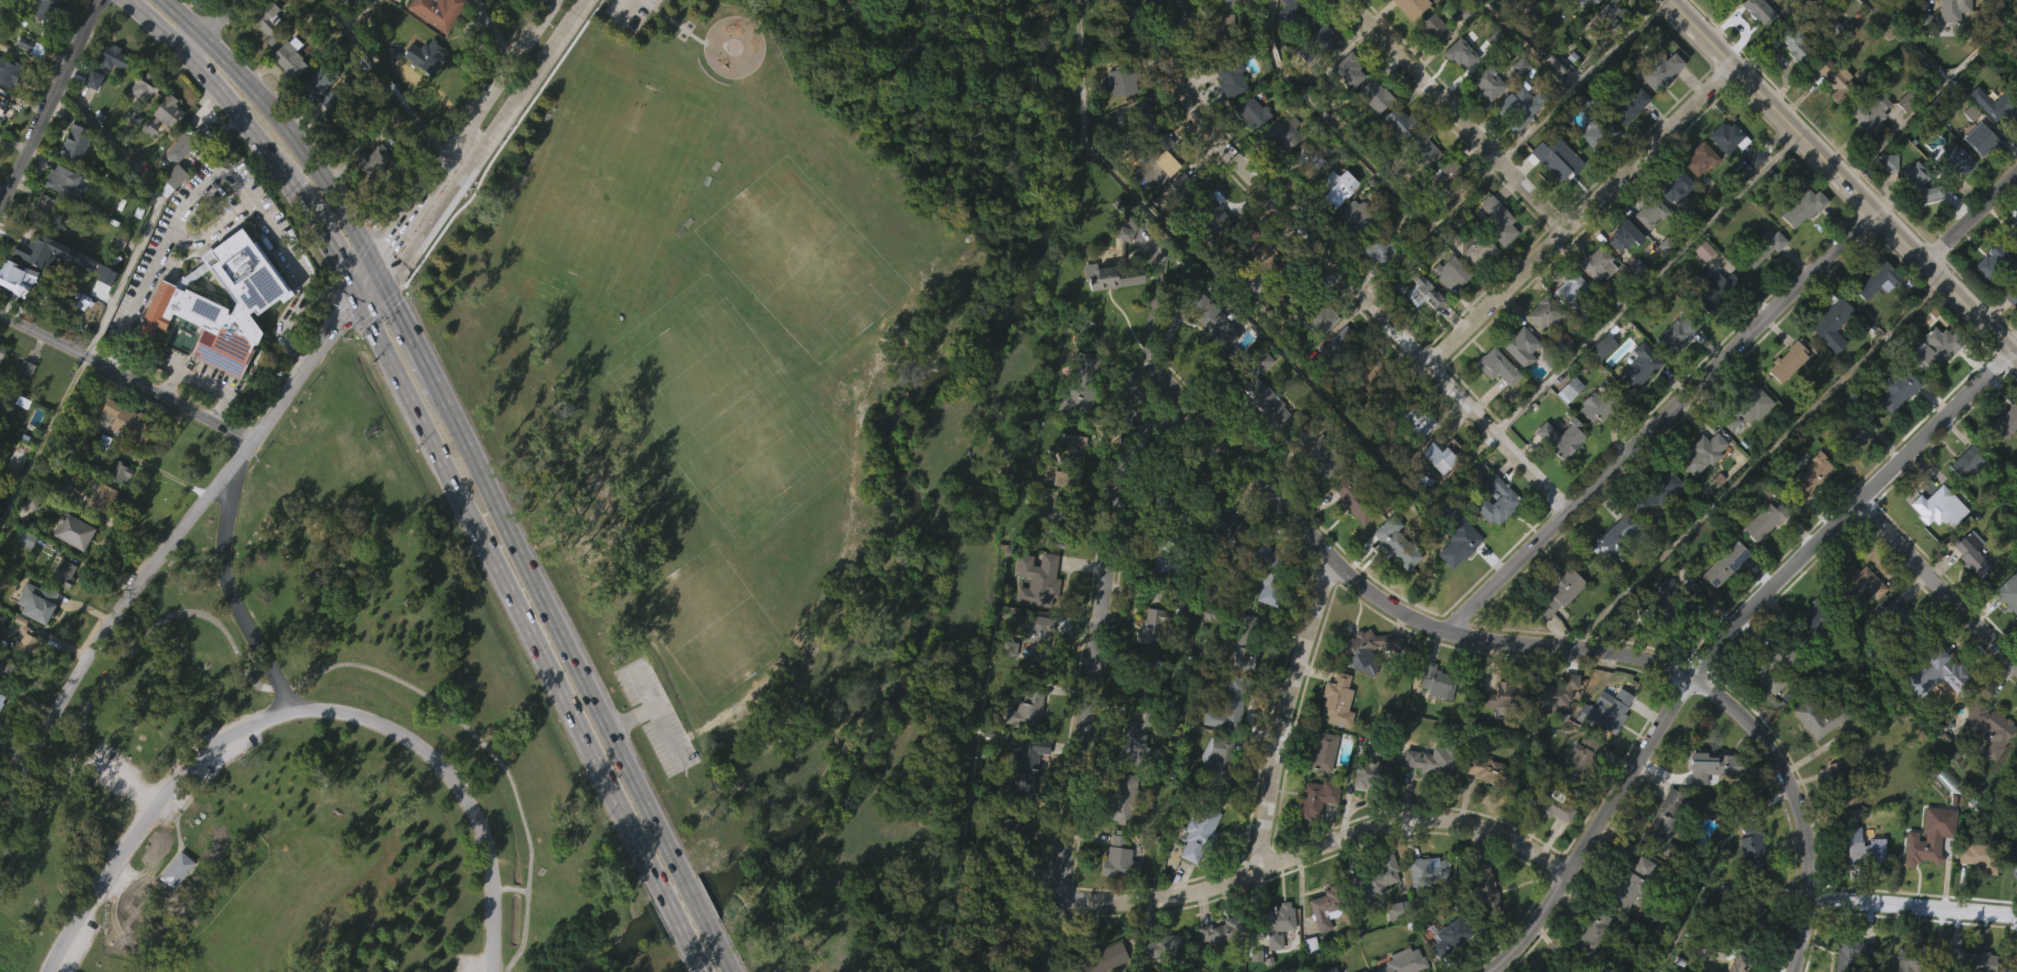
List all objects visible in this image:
building: (312, 2)
building: (1227, 3)
building: (1594, 3)
building: (193, 4)
building: (1731, 5)
building: (1989, 5)
building: (1411, 7)
building: (1560, 7)
building: (44, 9)
building: (1955, 9)
road: (342, 11)
building: (1760, 11)
building: (438, 12)
building: (476, 12)
building: (1383, 12)
parking lot: (632, 13)
building: (6, 15)
building: (1299, 15)
building: (1611, 15)
building: (1926, 15)
building: (268, 23)
building: (1585, 26)
building: (1119, 27)
building: (1433, 27)
road: (211, 29)
building: (1221, 34)
building: (46, 36)
building: (1950, 36)
building: (1406, 37)
building: (1799, 43)
building: (1319, 44)
building: (1754, 45)
building: (1291, 48)
building: (1607, 48)
building: (1460, 52)
building: (1919, 55)
building: (289, 56)
building: (425, 56)
building: (265, 58)
building: (109, 64)
building: (1218, 65)
building: (1431, 65)
building: (1351, 70)
building: (9, 71)
building: (1665, 72)
building: (1321, 76)
building: (21, 78)
building: (1791, 78)
road: (389, 79)
building: (1231, 79)
building: (1124, 80)
building: (1844, 80)
building: (1486, 81)
building: (143, 84)
building: (35, 86)
road: (208, 86)
building: (317, 87)
building: (285, 90)
building: (1458, 90)
building: (388, 91)
building: (423, 92)
building: (1373, 94)
building: (1552, 99)
building: (103, 100)
building: (1, 102)
road: (49, 102)
building: (1661, 105)
building: (2003, 106)
building: (1346, 107)
building: (1628, 107)
building: (1521, 108)
building: (1253, 112)
building: (1874, 112)
building: (163, 113)
building: (1227, 115)
road: (1456, 115)
building: (1832, 115)
building: (1117, 118)
building: (1484, 118)
road: (283, 120)
building: (1402, 122)
building: (316, 124)
building: (140, 125)
building: (1139, 125)
building: (348, 127)
road: (1796, 130)
road: (466, 131)
building: (1370, 131)
building: (1598, 132)
building: (1283, 133)
building: (196, 136)
building: (1725, 137)
building: (1900, 137)
building: (1, 138)
building: (74, 141)
building: (1985, 141)
road: (488, 142)
building: (1624, 142)
building: (1515, 143)
building: (1426, 147)
building: (1868, 148)
building: (1966, 148)
building: (1248, 149)
building: (161, 151)
building: (131, 154)
building: (374, 157)
building: (1702, 158)
building: (1394, 159)
building: (1953, 159)
building: (1306, 161)
building: (1566, 164)
building: (1155, 166)
building: (1594, 168)
building: (1281, 171)
building: (1725, 173)
building: (174, 175)
building: (1977, 175)
building: (64, 181)
building: (1446, 181)
park: (610, 183)
building: (1420, 185)
building: (1674, 185)
building: (1337, 187)
building: (1926, 188)
building: (1183, 190)
building: (1954, 194)
building: (1697, 195)
building: (369, 196)
building: (1749, 197)
building: (1885, 198)
building: (1560, 200)
building: (172, 201)
building: (1806, 206)
building: (39, 210)
building: (1143, 210)
building: (1649, 210)
building: (1216, 212)
road: (1581, 212)
road: (231, 215)
building: (1442, 215)
road: (1971, 215)
building: (1356, 216)
building: (61, 217)
building: (1499, 220)
building: (1672, 222)
building: (1335, 225)
building: (1925, 225)
building: (1178, 232)
building: (1622, 234)
road: (322, 237)
building: (1242, 237)
building: (2014, 238)
building: (43, 241)
building: (1798, 243)
building: (1378, 246)
building: (1764, 246)
building: (1477, 248)
building: (1646, 249)
building: (1349, 252)
building: (1493, 256)
building: (1210, 257)
park: (804, 260)
traffic signals: (375, 262)
building: (1599, 263)
building: (1997, 263)
building: (1112, 267)
building: (1261, 268)
road: (1342, 268)
building: (1450, 270)
building: (1618, 271)
road: (378, 272)
building: (2012, 274)
building: (10, 275)
road: (366, 278)
building: (1878, 278)
traffic signals: (383, 282)
building: (1759, 284)
building: (1375, 285)
building: (1473, 285)
road: (370, 288)
building: (1714, 289)
building: (1420, 292)
building: (1282, 293)
traffic signals: (358, 294)
building: (1557, 298)
building: (1991, 299)
building: (1593, 300)
building: (183, 305)
building: (1445, 309)
road: (1971, 309)
building: (1109, 313)
building: (15, 314)
building: (1873, 315)
building: (1320, 316)
building: (1212, 319)
building: (1248, 320)
building: (1833, 323)
building: (1566, 324)
building: (1713, 327)
building: (1419, 329)
building: (2007, 330)
building: (1675, 334)
road: (2010, 337)
road: (410, 338)
building: (1942, 345)
building: (1343, 346)
building: (1518, 346)
building: (1604, 346)
building: (1539, 348)
building: (1, 350)
building: (1318, 353)
building: (1210, 356)
building: (1828, 360)
building: (1790, 361)
building: (1499, 366)
road: (304, 368)
building: (1642, 369)
building: (1670, 371)
building: (1339, 375)
road: (126, 376)
building: (1361, 378)
road: (201, 381)
building: (1517, 381)
building: (1599, 382)
building: (1081, 383)
building: (1927, 384)
building: (1, 386)
building: (1899, 389)
building: (1784, 398)
building: (1387, 401)
building: (1493, 402)
building: (1603, 402)
building: (1268, 403)
building: (24, 404)
building: (1749, 406)
park: (720, 407)
building: (1633, 407)
park: (781, 412)
building: (1359, 413)
road: (1661, 419)
building: (1418, 422)
building: (2006, 422)
building: (1568, 423)
building: (130, 425)
building: (1893, 425)
building: (1856, 435)
building: (1562, 438)
building: (1263, 439)
building: (1590, 443)
building: (1743, 444)
building: (1319, 451)
building: (1705, 452)
building: (1442, 454)
building: (2003, 456)
road: (238, 457)
building: (125, 458)
building: (1412, 459)
building: (1069, 461)
building: (1968, 461)
building: (1854, 467)
building: (118, 472)
building: (1558, 472)
building: (1813, 475)
building: (1172, 488)
building: (1699, 488)
building: (1437, 490)
building: (1312, 492)
building: (1658, 492)
building: (102, 498)
building: (1963, 498)
building: (1355, 499)
building: (1498, 500)
building: (1935, 504)
building: (118, 508)
building: (1807, 512)
building: (1766, 520)
building: (1056, 522)
building: (1223, 524)
building: (1652, 528)
building: (71, 531)
building: (1350, 536)
building: (1493, 536)
building: (1614, 538)
building: (1928, 540)
building: (1398, 542)
building: (1460, 542)
building: (1051, 547)
building: (1974, 554)
building: (1759, 558)
building: (1219, 559)
building: (1166, 560)
building: (1727, 563)
building: (1268, 568)
road: (504, 569)
building: (62, 572)
building: (23, 574)
building: (1037, 577)
building: (1393, 578)
building: (1456, 582)
building: (1861, 582)
road: (1938, 585)
building: (1967, 588)
building: (1559, 591)
building: (2007, 596)
road: (230, 597)
building: (1721, 599)
building: (39, 603)
building: (1665, 606)
building: (61, 608)
road: (552, 616)
building: (1857, 616)
building: (1814, 620)
building: (1160, 623)
building: (1900, 623)
building: (1264, 624)
park: (707, 625)
building: (1556, 628)
building: (2006, 629)
road: (103, 631)
building: (1663, 631)
building: (1248, 637)
building: (1039, 639)
building: (1010, 641)
road: (1723, 641)
building: (1371, 643)
road: (1525, 643)
building: (26, 644)
building: (1179, 645)
road: (1094, 647)
building: (1889, 651)
building: (1807, 656)
building: (1776, 663)
building: (8, 668)
building: (1951, 673)
building: (1035, 676)
building: (1142, 677)
building: (1242, 677)
building: (1438, 681)
building: (26, 682)
building: (1363, 685)
road: (279, 687)
building: (1506, 695)
building: (1336, 696)
building: (1555, 697)
building: (1, 698)
building: (1229, 704)
building: (1756, 705)
building: (1027, 708)
building: (1933, 709)
road: (1286, 712)
building: (1607, 712)
building: (1434, 717)
building: (1821, 717)
building: (1137, 725)
building: (1991, 727)
building: (1552, 731)
building: (1, 733)
building: (1225, 742)
building: (1023, 745)
building: (1603, 745)
building: (1138, 749)
building: (1324, 750)
road: (12, 751)
park: (316, 753)
building: (1813, 754)
building: (1585, 758)
building: (1026, 763)
building: (1985, 763)
parking lot: (213, 764)
building: (1431, 764)
building: (1220, 765)
parking lot: (111, 766)
building: (1717, 767)
road: (1659, 769)
building: (1492, 772)
building: (1129, 774)
building: (1374, 776)
road: (129, 777)
building: (1845, 783)
road: (454, 787)
building: (2016, 787)
building: (1576, 789)
building: (1023, 792)
building: (1217, 794)
building: (1128, 796)
building: (1432, 796)
building: (1316, 799)
building: (1710, 801)
building: (1478, 803)
building: (1548, 805)
building: (1834, 805)
road: (113, 809)
building: (1368, 810)
road: (145, 817)
building: (1667, 822)
building: (1009, 831)
building: (1200, 832)
building: (1312, 834)
building: (1118, 835)
building: (1547, 842)
building: (1923, 843)
building: (2016, 843)
building: (1755, 847)
road: (1318, 848)
building: (1664, 851)
building: (1864, 852)
building: (1980, 855)
building: (1120, 860)
building: (1007, 866)
building: (1645, 867)
building: (1195, 870)
building: (176, 871)
building: (1925, 871)
building: (1377, 878)
building: (1426, 878)
building: (1486, 884)
building: (1858, 884)
building: (1009, 888)
road: (505, 889)
building: (1626, 890)
road: (692, 891)
building: (1117, 893)
road: (672, 901)
building: (2014, 902)
building: (1425, 905)
road: (1913, 905)
building: (173, 906)
building: (1325, 908)
building: (1747, 909)
building: (1374, 912)
building: (1625, 918)
building: (1481, 920)
building: (1279, 924)
building: (1222, 931)
building: (1594, 933)
building: (1451, 937)
building: (1002, 944)
building: (1319, 944)
building: (1163, 945)
building: (1714, 951)
building: (1276, 952)
building: (1853, 954)
building: (2013, 954)
road: (725, 958)
building: (1101, 958)
building: (1917, 959)
building: (1592, 960)
building: (1970, 961)
building: (1402, 962)
road: (703, 963)
building: (1221, 964)
building: (1450, 964)
building: (1741, 964)
building: (1329, 969)
building: (1360, 970)
building: (1171, 971)
building: (1569, 971)

